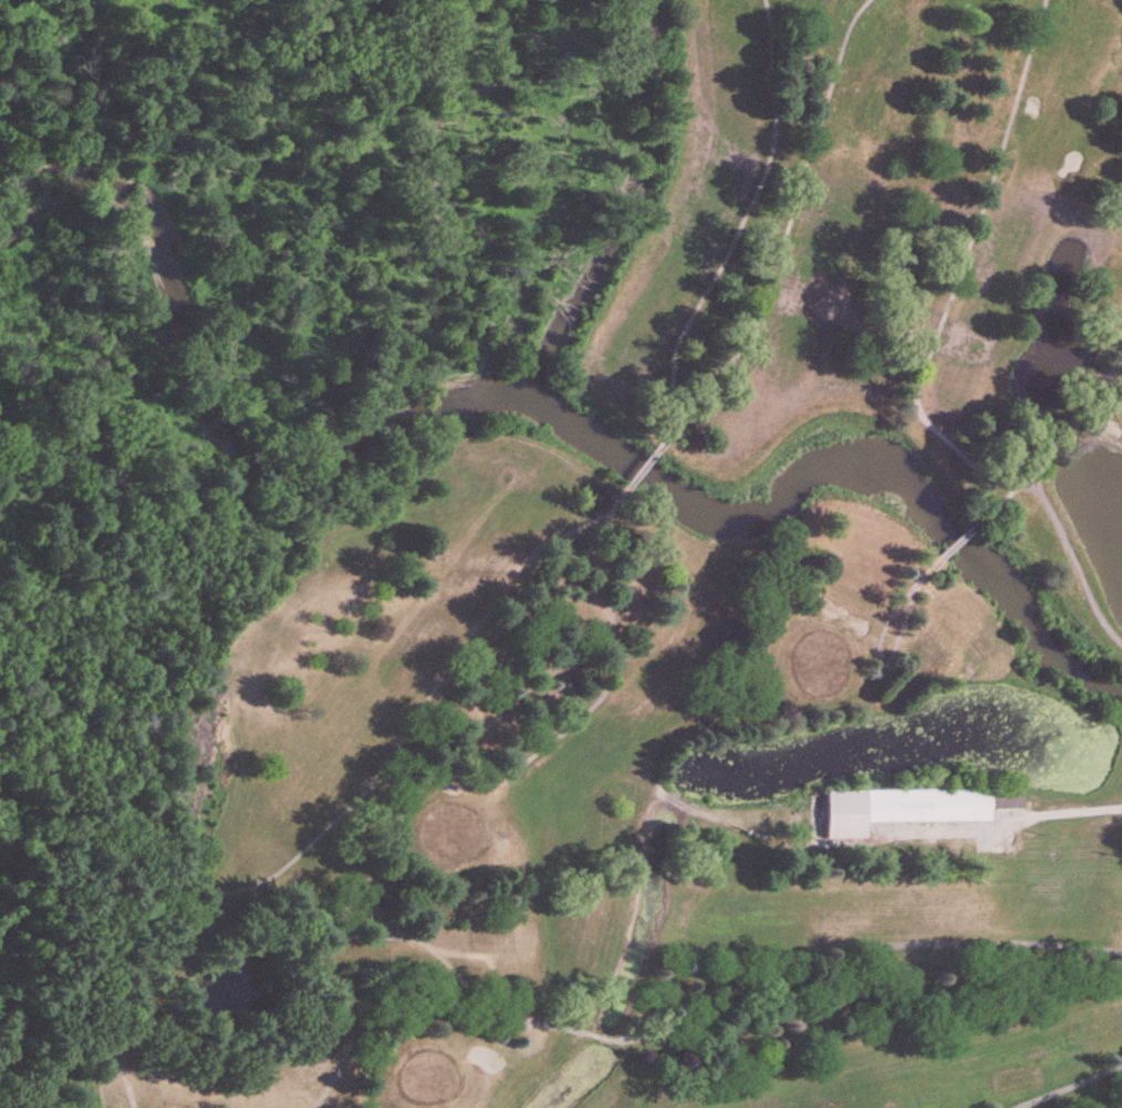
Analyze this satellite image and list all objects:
river: (527, 401)
park: (565, 551)
building: (903, 809)

